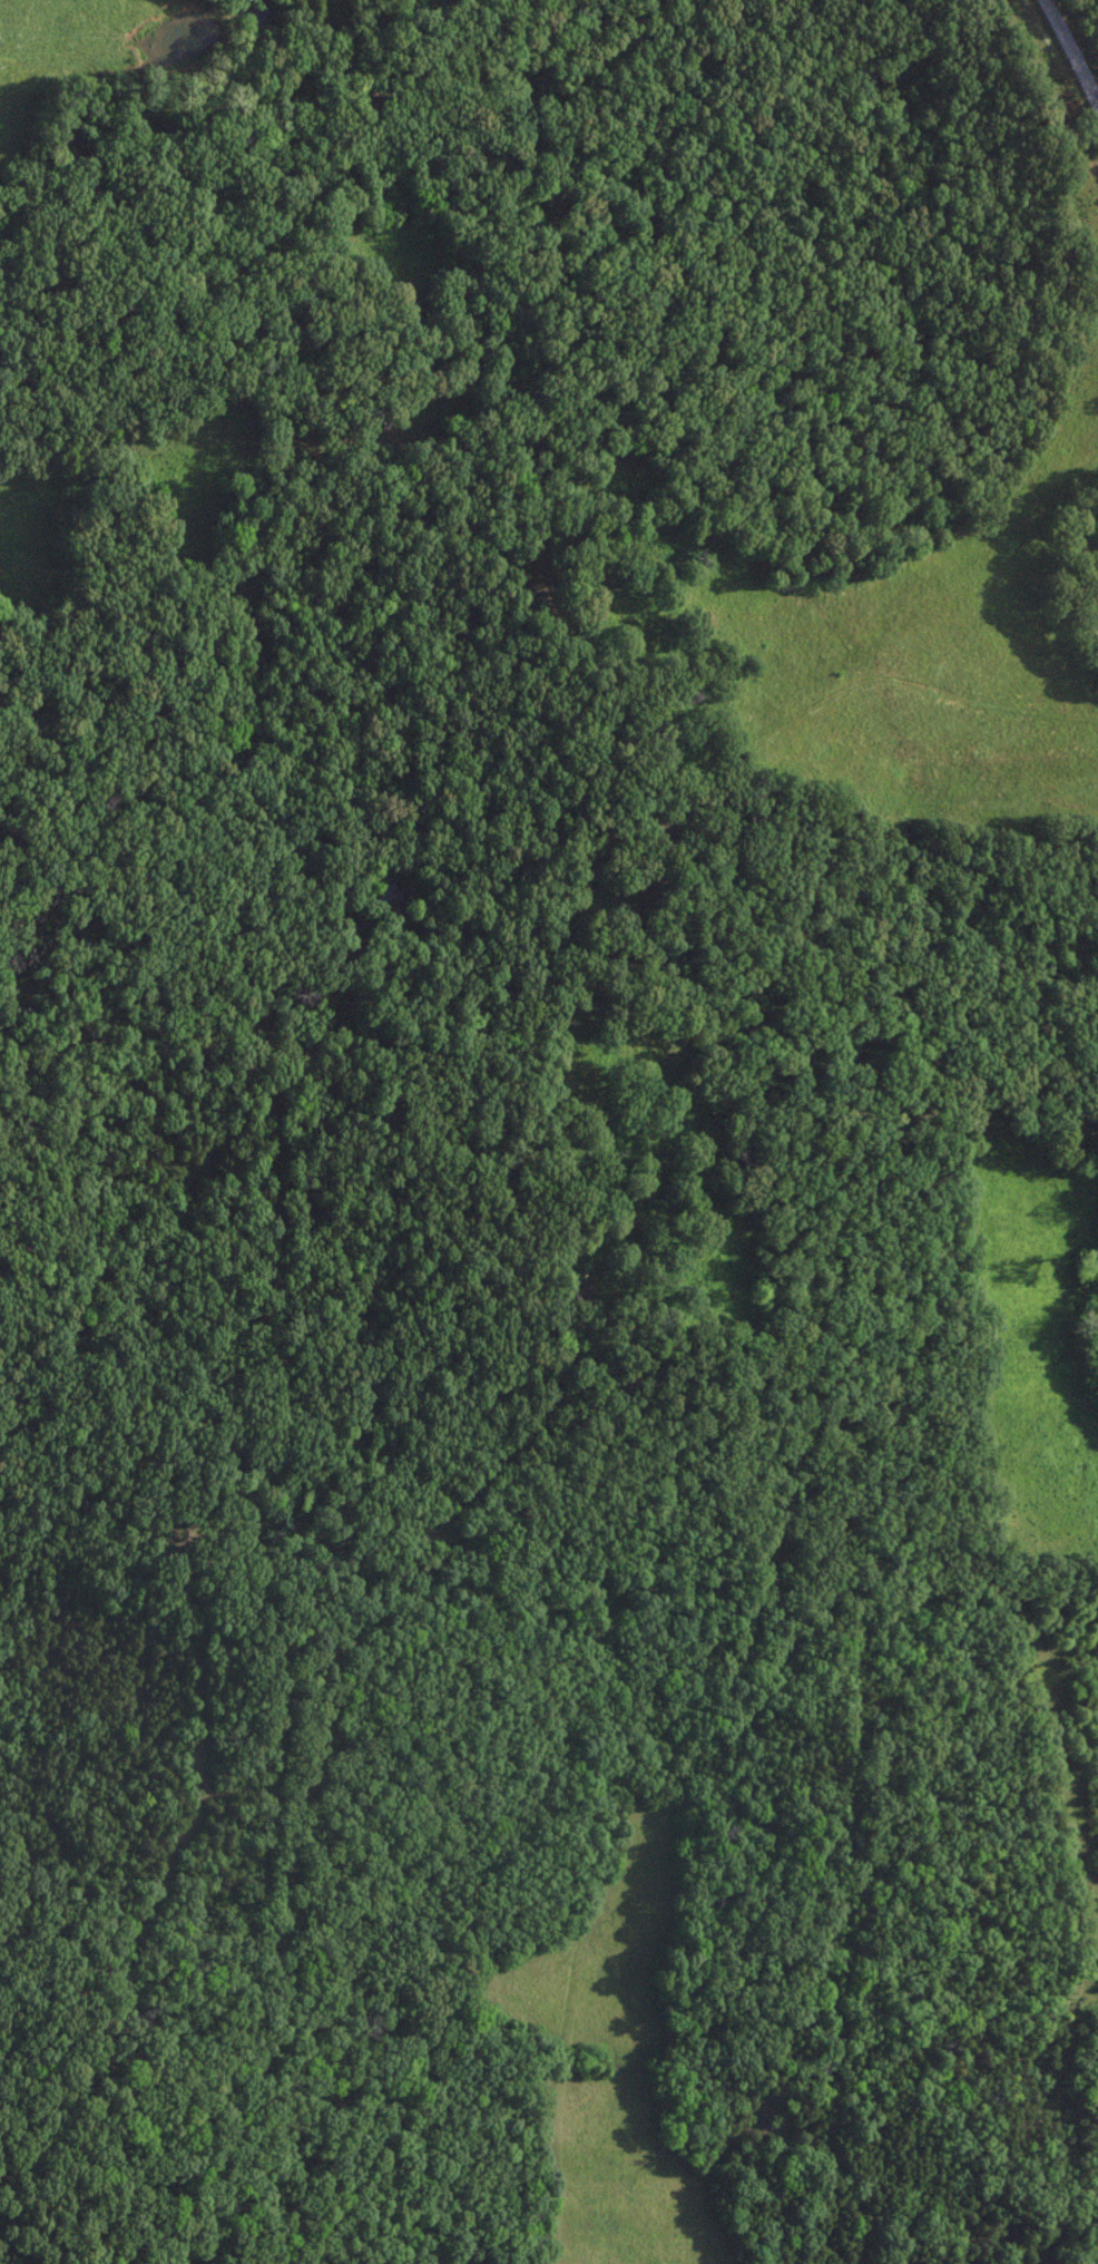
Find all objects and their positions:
road: (1071, 59)

